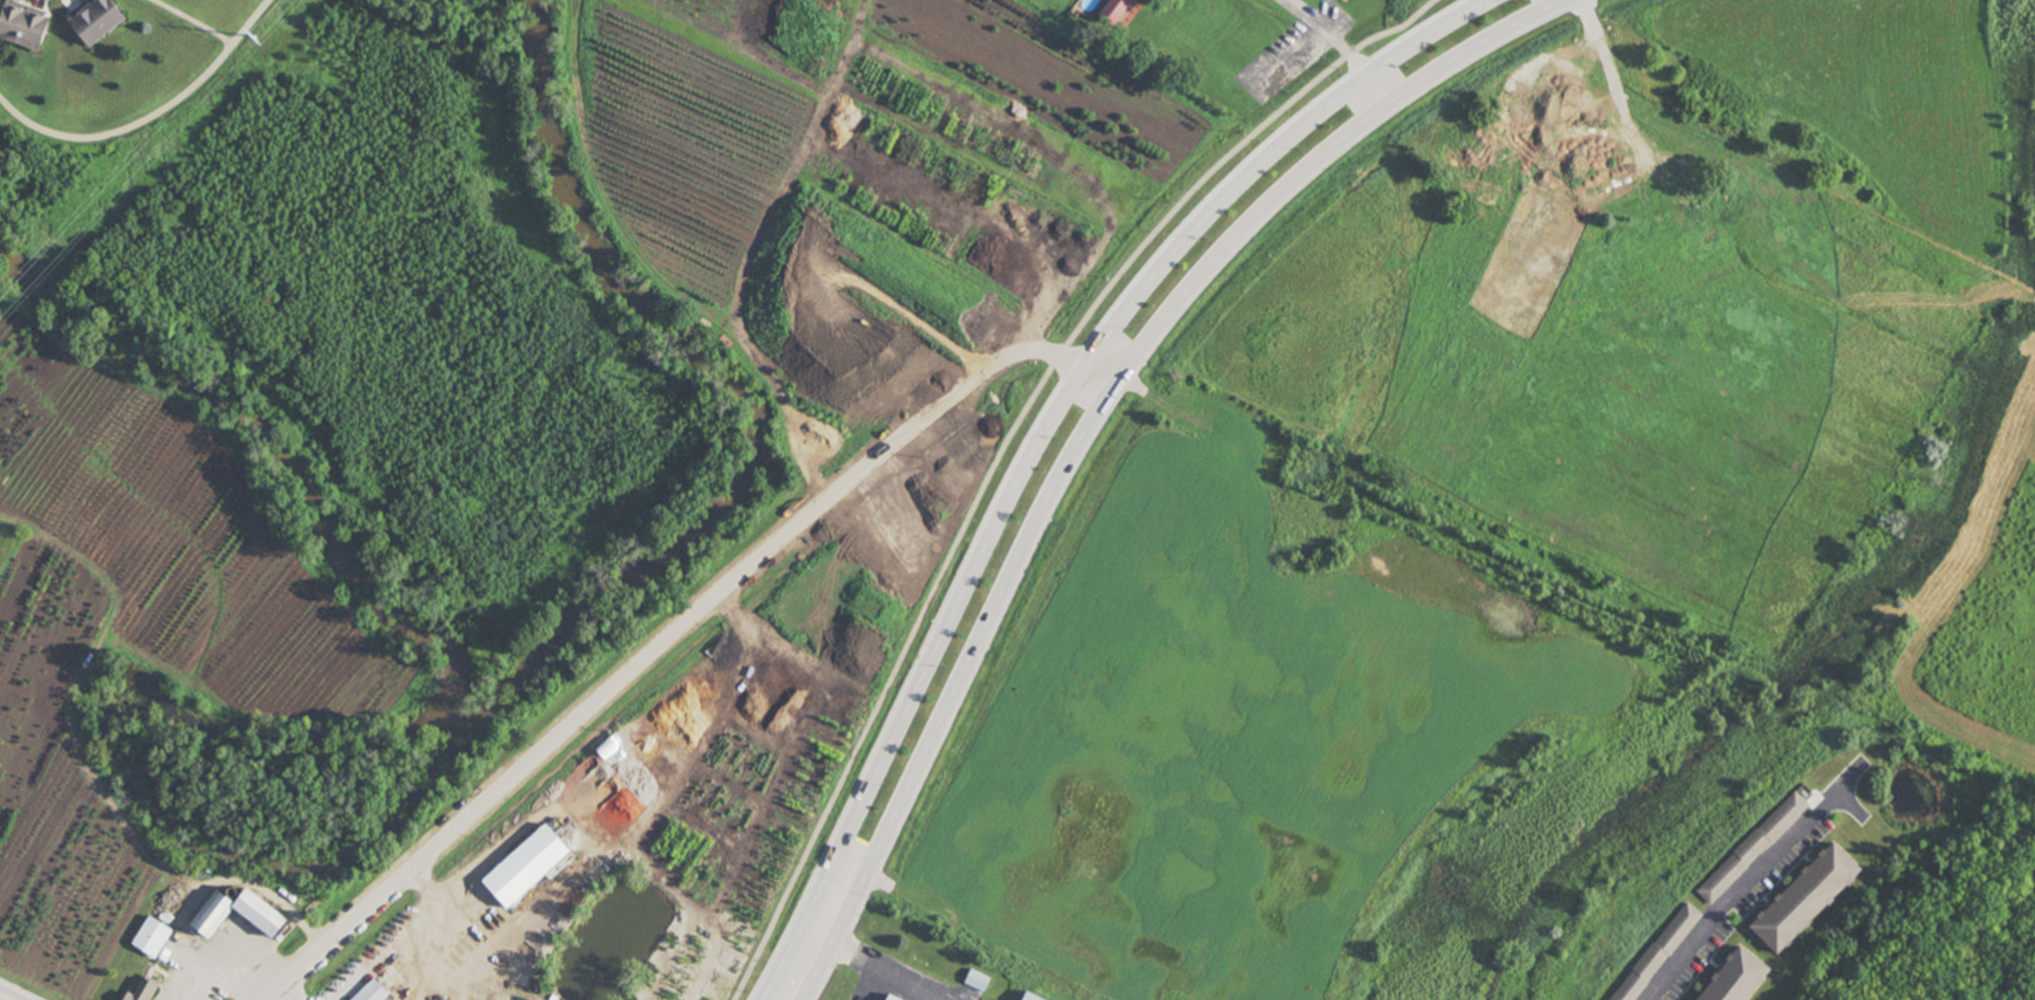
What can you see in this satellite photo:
building: (1118, 11)
park: (477, 19)
building: (97, 20)
road: (187, 22)
building: (23, 26)
power tower: (254, 37)
road: (1335, 45)
road: (1611, 80)
road: (150, 115)
building: (1779, 232)
park: (3, 276)
road: (1088, 423)
road: (1042, 434)
road: (1007, 439)
crop: (1969, 485)
road: (675, 633)
river: (535, 662)
road: (69, 727)
crop: (1305, 727)
building: (608, 751)
building: (1753, 850)
building: (527, 868)
road: (1753, 885)
road: (195, 895)
building: (1805, 901)
building: (261, 917)
road: (434, 934)
building: (153, 940)
road: (232, 954)
building: (1659, 954)
road: (871, 962)
building: (1738, 979)
building: (976, 981)
road: (193, 985)
building: (145, 991)
road: (293, 991)
building: (373, 993)
building: (1026, 998)
road: (0, 999)
building: (888, 999)

